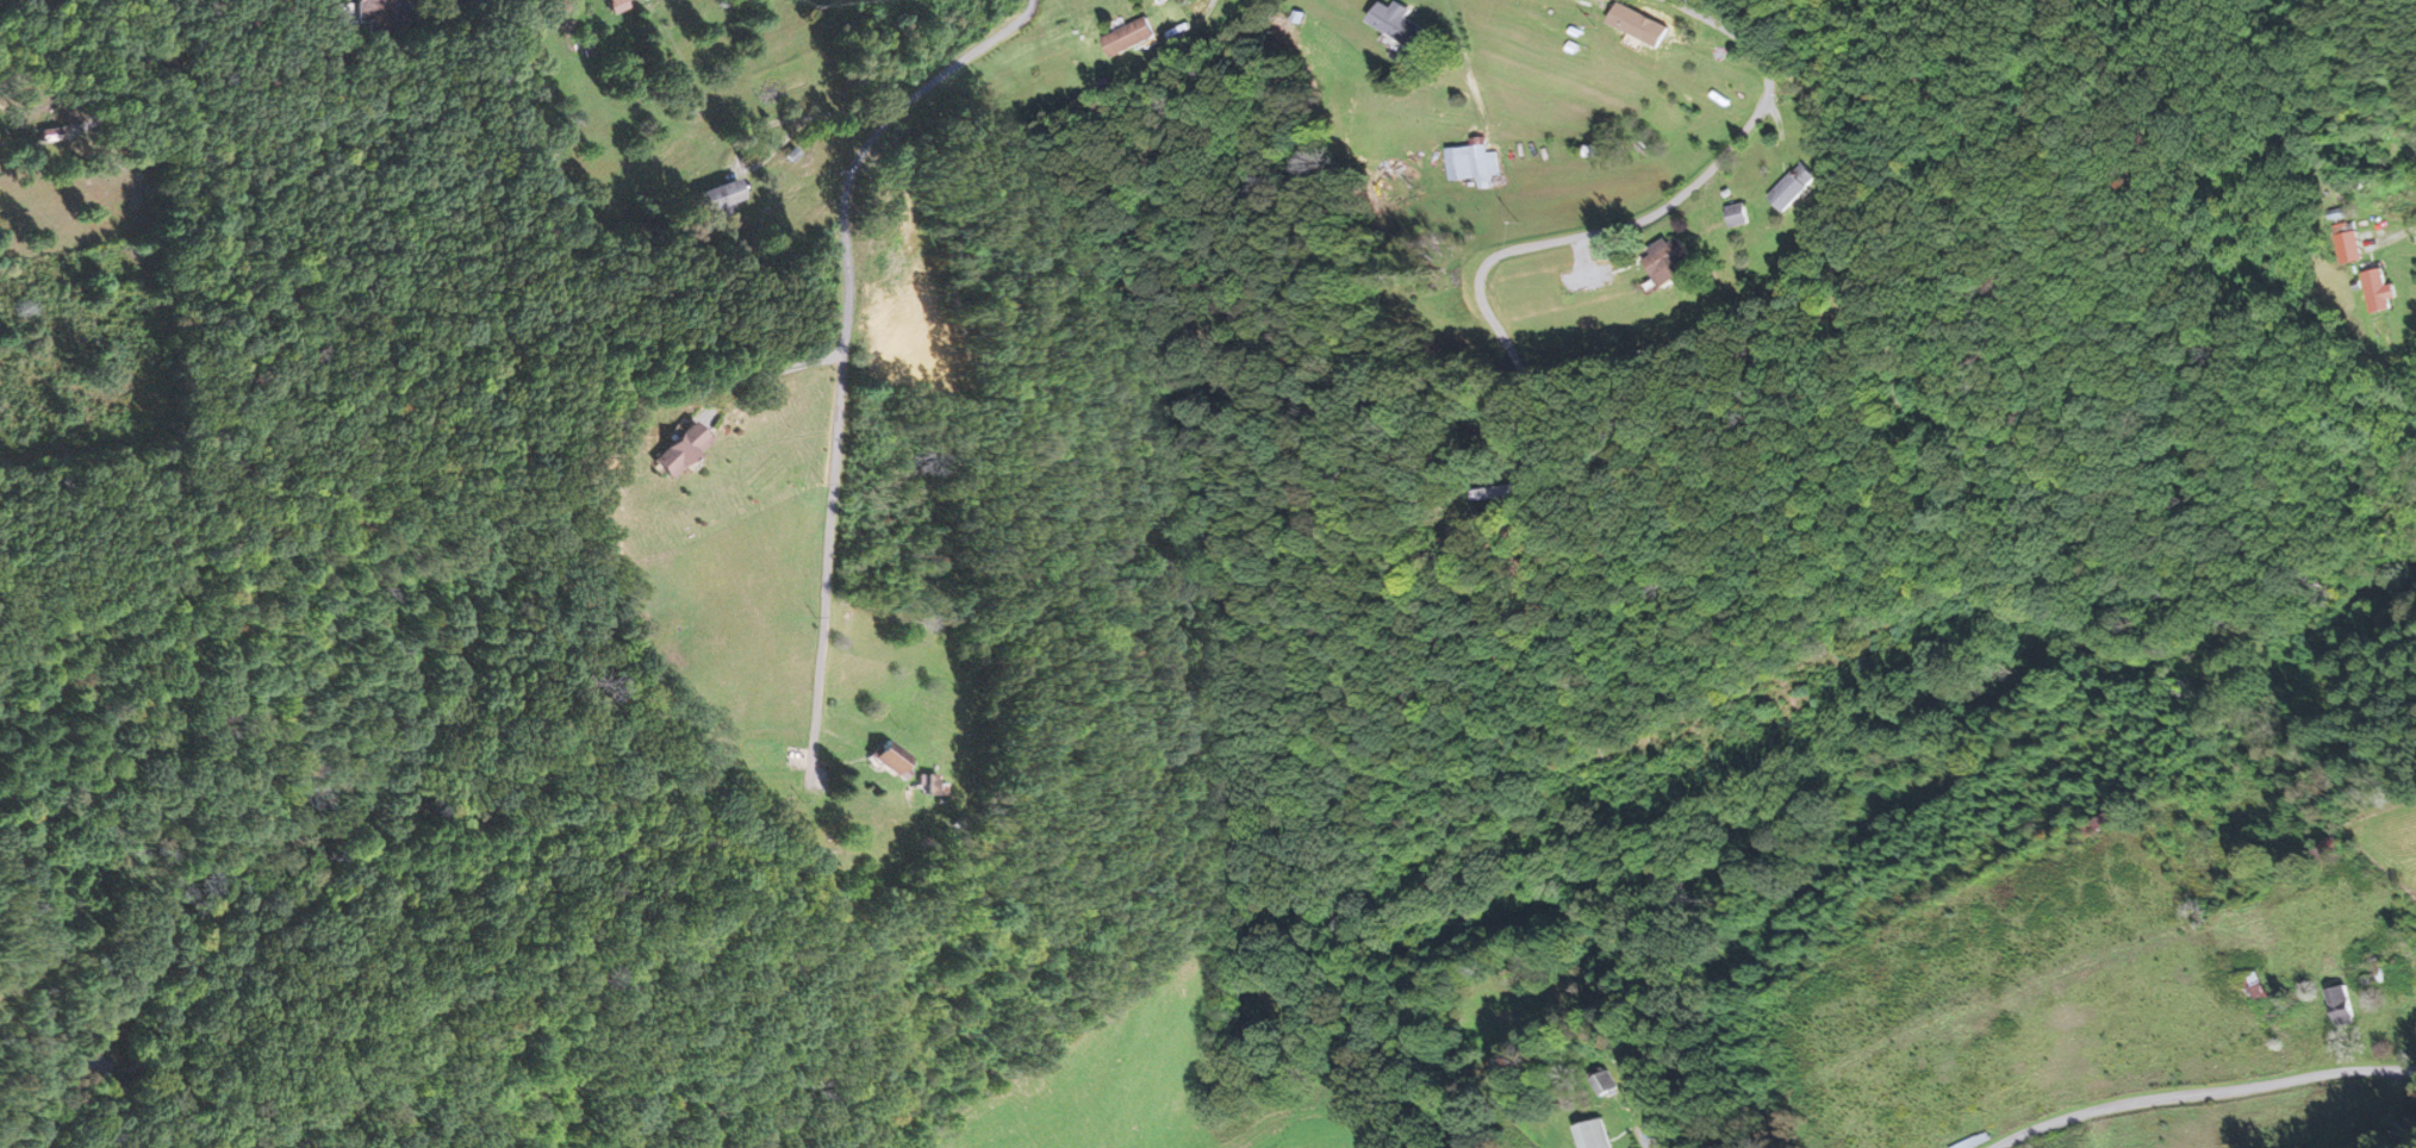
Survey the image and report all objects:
building: (612, 4)
building: (374, 19)
building: (1399, 23)
building: (1638, 23)
road: (1727, 32)
building: (1129, 37)
road: (174, 75)
building: (1477, 164)
building: (1795, 187)
building: (720, 196)
building: (1737, 214)
road: (1614, 227)
building: (1667, 261)
building: (2377, 289)
road: (843, 348)
building: (675, 449)
building: (1501, 492)
building: (886, 757)
building: (927, 785)
building: (2097, 823)
building: (2323, 850)
building: (2254, 988)
building: (2340, 1006)
building: (1602, 1083)
road: (2256, 1097)
building: (1593, 1135)

